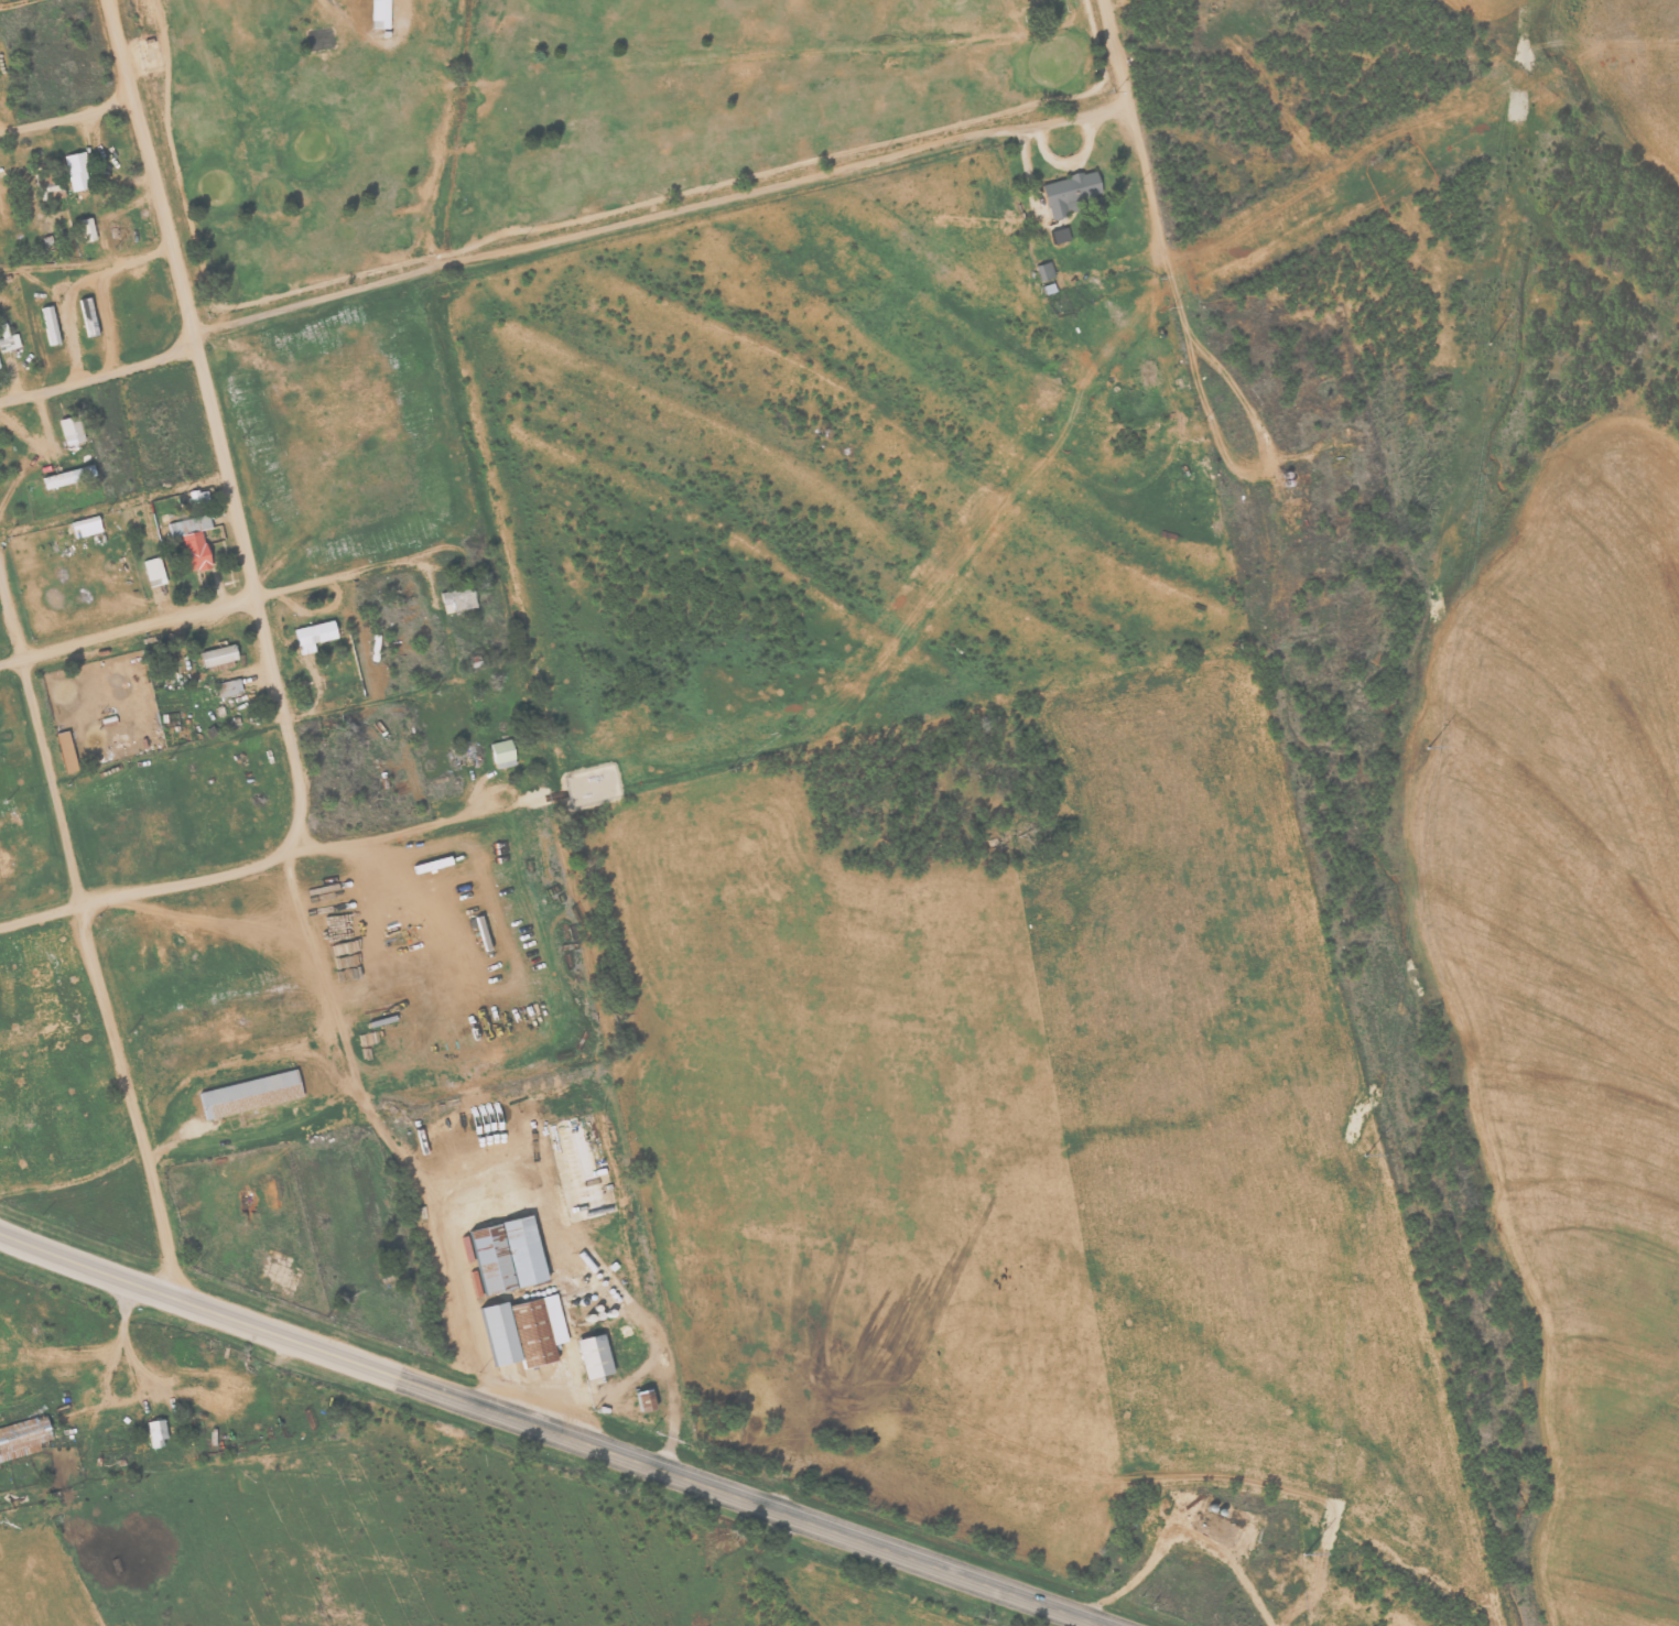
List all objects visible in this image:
road: (13, 3)
building: (379, 14)
park: (544, 116)
road: (66, 117)
road: (1133, 123)
building: (76, 171)
building: (1070, 194)
road: (660, 218)
building: (86, 229)
building: (1058, 236)
building: (87, 316)
building: (48, 325)
building: (8, 339)
power tower: (1487, 353)
road: (98, 375)
building: (69, 430)
road: (216, 431)
building: (64, 477)
road: (113, 505)
building: (85, 527)
building: (191, 543)
building: (153, 572)
road: (214, 606)
building: (312, 636)
building: (216, 655)
building: (228, 687)
building: (65, 751)
power tower: (1426, 752)
building: (501, 754)
road: (243, 866)
road: (88, 939)
building: (246, 1094)
power tower: (1365, 1147)
building: (521, 1250)
building: (488, 1259)
road: (194, 1309)
building: (521, 1332)
building: (593, 1356)
building: (642, 1401)
building: (156, 1432)
building: (22, 1438)
road: (741, 1500)
power tower: (1304, 1548)

